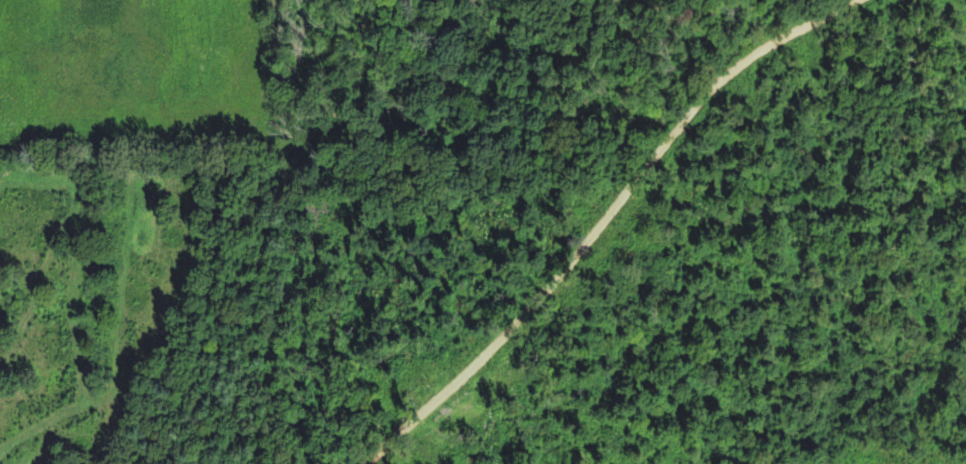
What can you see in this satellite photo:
road: (608, 226)

